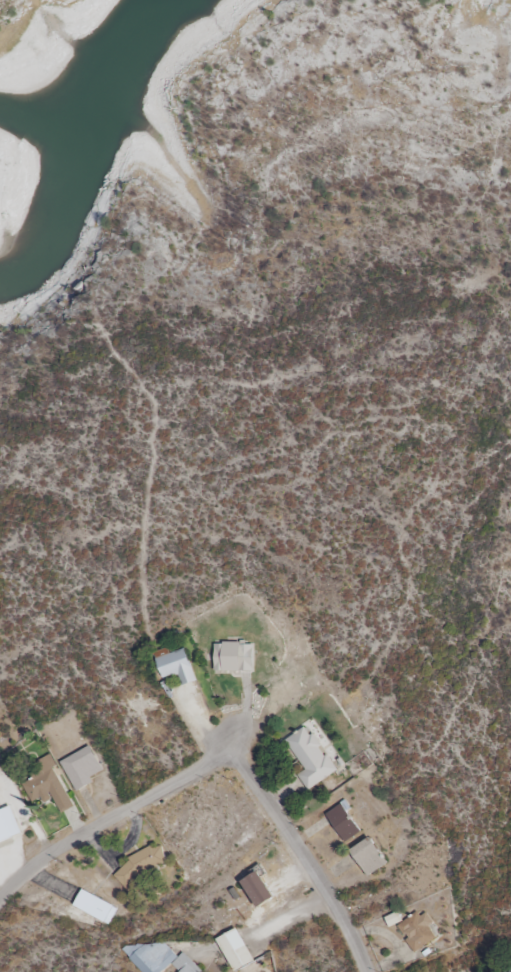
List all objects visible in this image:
building: (234, 657)
building: (177, 666)
road: (209, 724)
building: (311, 757)
building: (82, 767)
building: (48, 785)
road: (112, 821)
building: (343, 822)
building: (9, 824)
building: (369, 856)
road: (305, 859)
building: (141, 865)
building: (258, 889)
building: (96, 906)
building: (418, 930)
road: (289, 935)
building: (237, 950)
building: (179, 962)
building: (507, 969)

